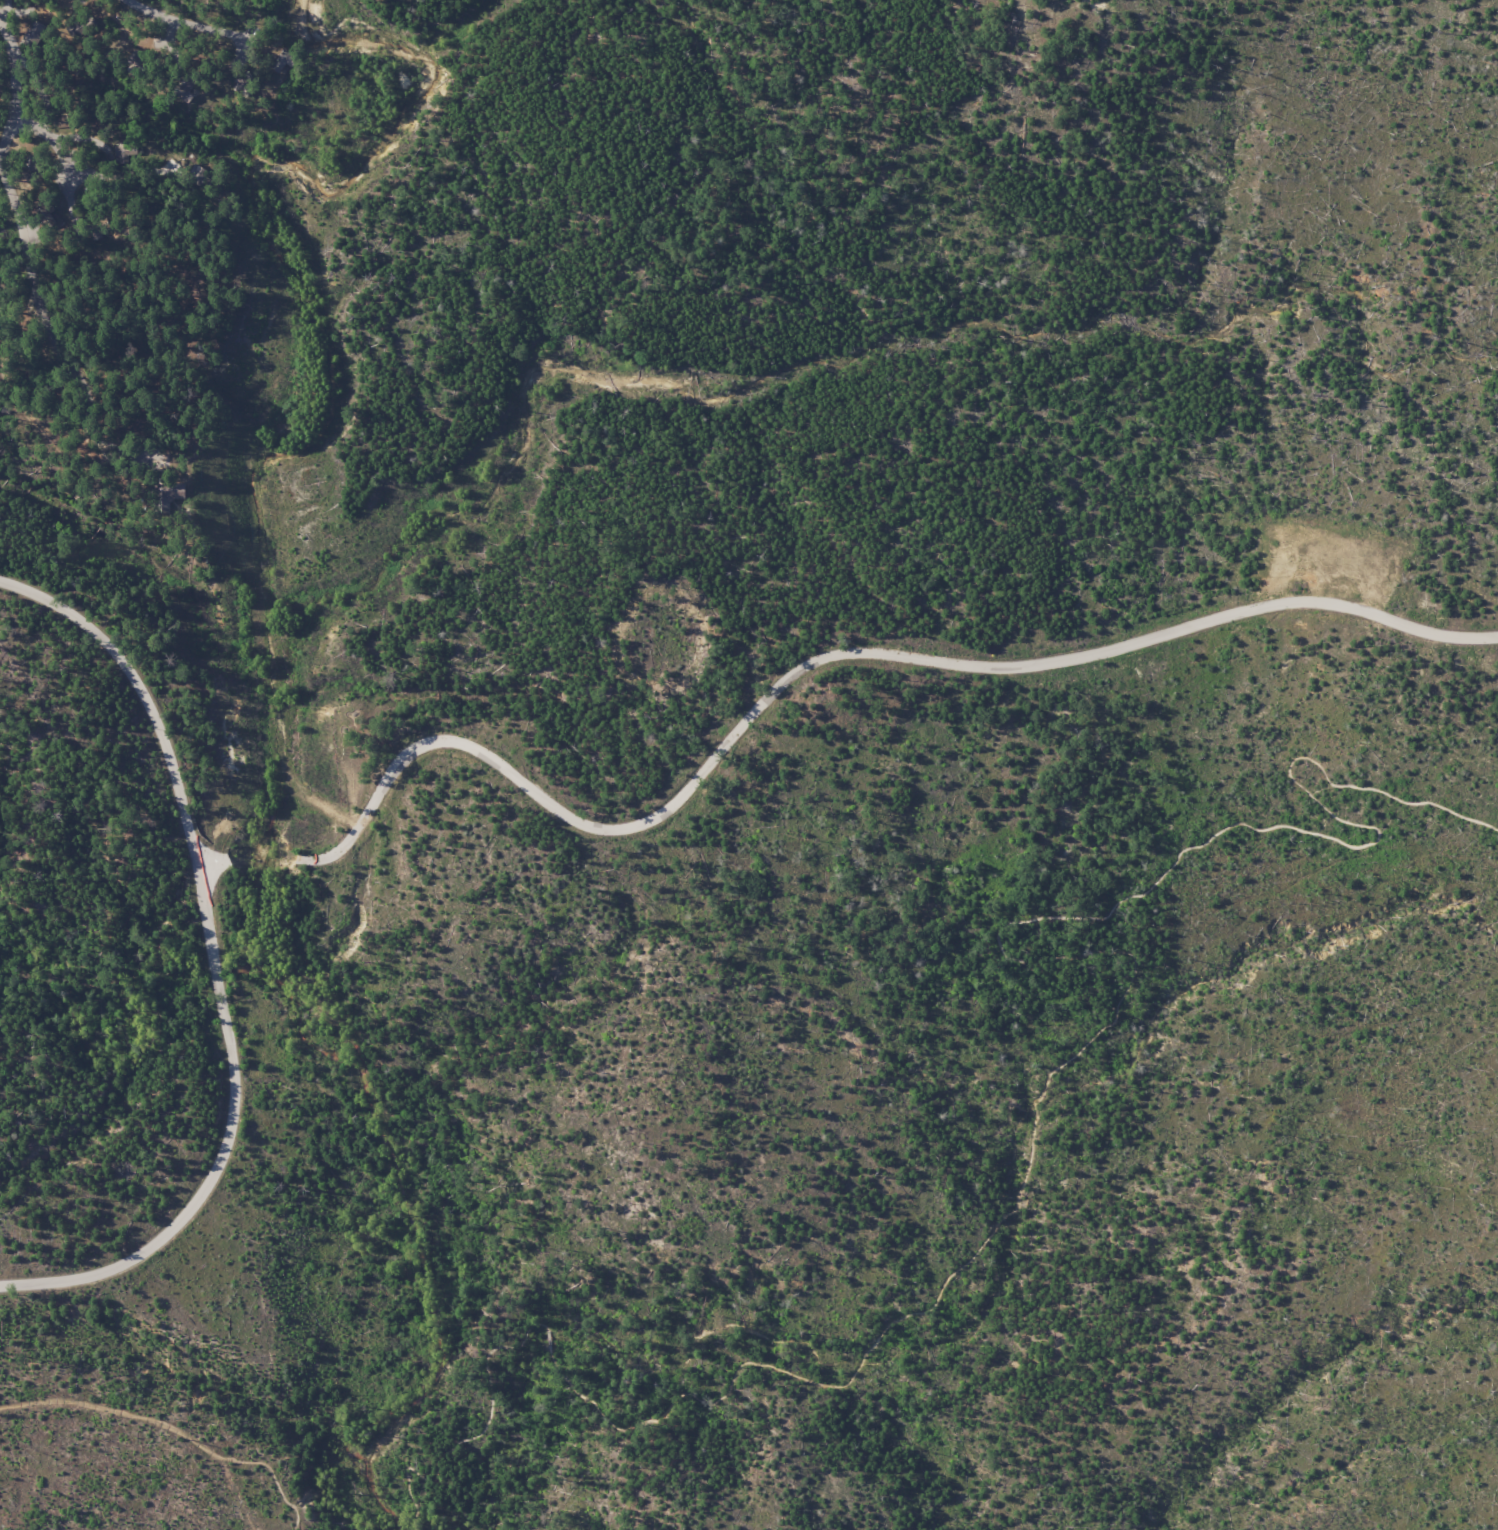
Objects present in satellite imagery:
road: (83, 0)
road: (7, 15)
road: (1, 17)
building: (79, 23)
building: (38, 27)
road: (184, 27)
road: (162, 40)
road: (171, 46)
building: (136, 65)
building: (282, 65)
building: (243, 83)
building: (184, 87)
building: (68, 126)
road: (32, 131)
road: (8, 134)
road: (57, 137)
road: (81, 139)
building: (125, 149)
road: (135, 153)
building: (30, 164)
building: (198, 172)
road: (120, 176)
building: (48, 212)
building: (102, 230)
building: (58, 246)
road: (71, 382)
building: (174, 492)
road: (817, 660)
road: (140, 688)
park: (749, 765)
road: (214, 860)
road: (1043, 1077)
road: (225, 1143)
road: (172, 1426)
road: (410, 1525)

